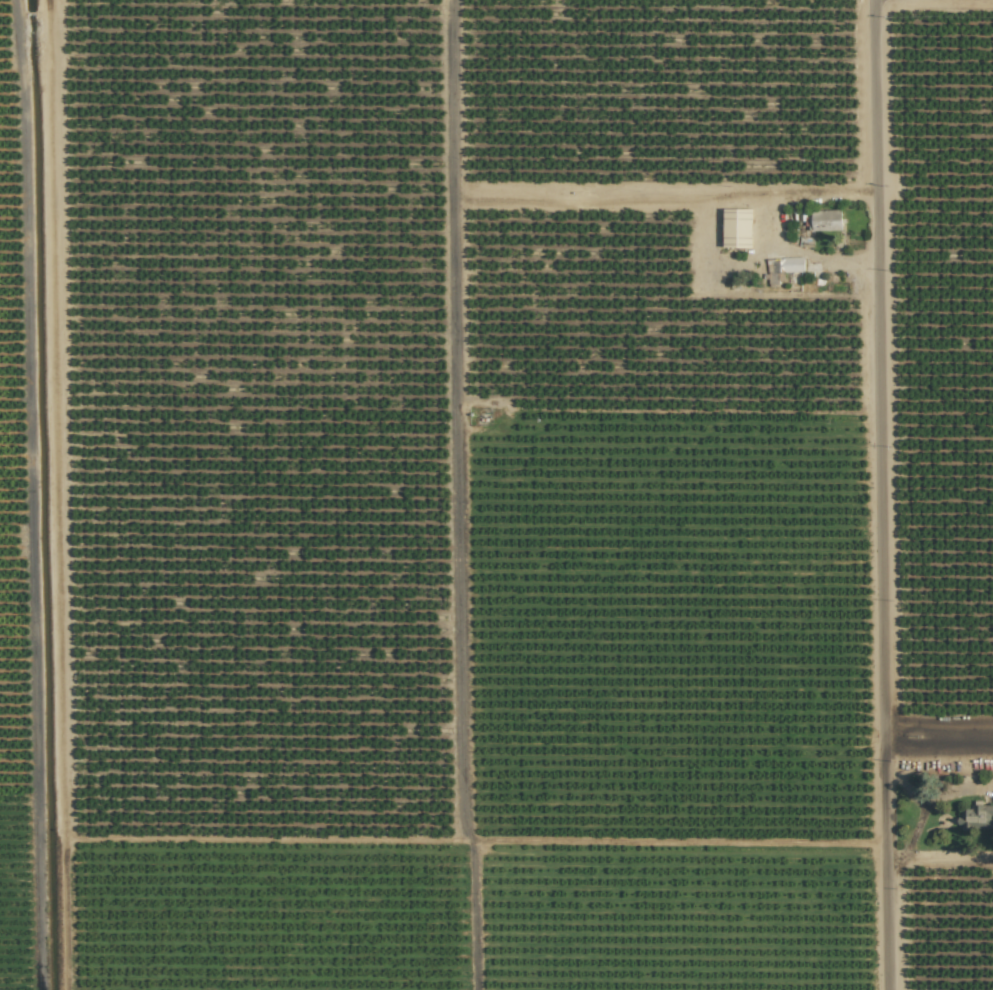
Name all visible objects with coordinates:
building: (825, 220)
building: (737, 227)
road: (760, 227)
road: (869, 495)
road: (932, 736)
building: (976, 817)

